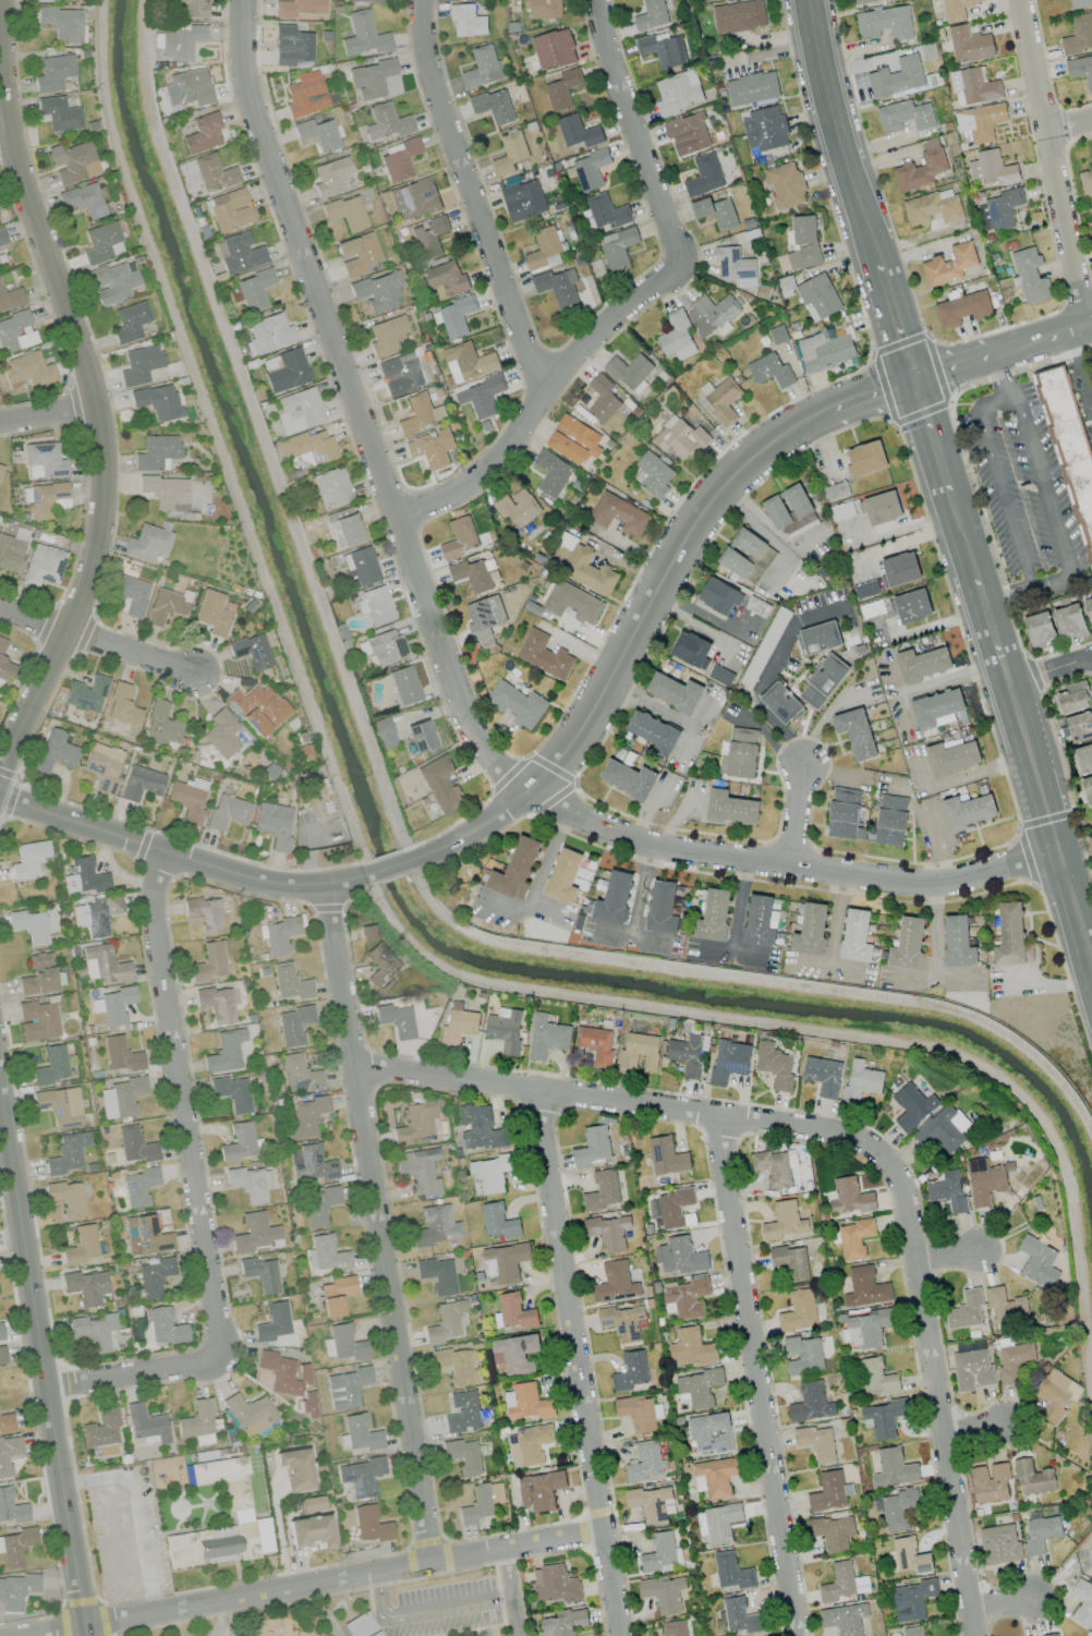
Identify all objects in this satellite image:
building: (44, 0)
building: (367, 0)
building: (864, 1)
building: (1080, 3)
building: (296, 7)
building: (191, 8)
building: (544, 9)
building: (956, 10)
building: (652, 15)
building: (739, 17)
building: (468, 21)
building: (62, 23)
building: (885, 23)
building: (1079, 34)
building: (363, 35)
building: (180, 41)
building: (291, 45)
building: (969, 45)
building: (554, 49)
building: (663, 49)
building: (483, 69)
building: (1080, 70)
building: (52, 72)
building: (369, 77)
building: (897, 77)
building: (974, 85)
building: (187, 87)
building: (752, 88)
building: (562, 89)
building: (678, 93)
building: (304, 96)
building: (494, 106)
building: (59, 113)
building: (905, 116)
building: (386, 122)
building: (981, 122)
road: (1068, 128)
building: (764, 130)
building: (578, 132)
building: (202, 133)
building: (317, 133)
road: (634, 134)
building: (688, 134)
road: (838, 134)
road: (5, 136)
building: (510, 154)
building: (399, 158)
building: (72, 161)
road: (1051, 162)
building: (921, 167)
building: (993, 168)
building: (590, 169)
building: (213, 172)
building: (329, 175)
building: (704, 175)
building: (1085, 181)
building: (786, 186)
road: (473, 197)
building: (413, 198)
building: (83, 199)
building: (523, 201)
building: (932, 208)
building: (229, 209)
building: (1002, 209)
building: (345, 211)
building: (715, 211)
building: (606, 213)
building: (2, 238)
building: (428, 238)
building: (101, 242)
building: (803, 243)
building: (618, 247)
building: (544, 250)
building: (240, 253)
building: (356, 253)
building: (949, 265)
building: (736, 266)
building: (1030, 275)
building: (445, 280)
building: (113, 281)
building: (558, 288)
building: (254, 289)
building: (376, 291)
building: (818, 296)
building: (11, 299)
building: (962, 310)
building: (712, 314)
building: (456, 317)
building: (131, 320)
road: (895, 323)
road: (1090, 324)
road: (1067, 330)
building: (15, 331)
building: (267, 334)
building: (386, 335)
building: (677, 337)
road: (1021, 344)
building: (824, 351)
building: (468, 362)
building: (139, 364)
road: (953, 366)
building: (28, 369)
building: (401, 369)
road: (1017, 369)
building: (287, 371)
building: (771, 371)
building: (630, 373)
road: (1002, 375)
traffic signals: (911, 379)
road: (89, 389)
road: (538, 396)
road: (867, 396)
building: (481, 397)
road: (1016, 397)
building: (603, 399)
building: (721, 400)
building: (157, 401)
building: (298, 410)
road: (47, 413)
road: (920, 413)
building: (420, 414)
road: (930, 434)
building: (680, 438)
building: (573, 440)
building: (1069, 444)
building: (306, 447)
building: (430, 448)
building: (156, 451)
building: (45, 459)
building: (865, 459)
building: (0, 468)
building: (551, 474)
building: (653, 475)
building: (331, 487)
building: (835, 492)
parking lot: (1021, 492)
building: (46, 499)
building: (517, 508)
building: (882, 508)
building: (790, 511)
building: (619, 514)
building: (343, 526)
road: (761, 532)
road: (963, 534)
building: (459, 538)
building: (147, 542)
building: (11, 549)
building: (747, 557)
road: (695, 561)
building: (43, 565)
building: (360, 566)
building: (900, 569)
building: (587, 570)
building: (473, 575)
building: (131, 594)
building: (717, 596)
road: (1008, 597)
building: (572, 603)
building: (375, 604)
building: (166, 605)
building: (912, 606)
building: (1089, 609)
building: (214, 613)
building: (484, 619)
building: (1070, 621)
road: (992, 629)
building: (1039, 629)
building: (818, 638)
road: (93, 640)
building: (1, 644)
road: (624, 646)
building: (385, 647)
building: (765, 647)
building: (690, 649)
building: (251, 651)
building: (544, 655)
building: (922, 664)
road: (449, 667)
building: (7, 668)
road: (1049, 668)
road: (764, 674)
road: (627, 680)
building: (823, 681)
building: (404, 684)
building: (675, 692)
building: (86, 693)
road: (619, 698)
building: (1072, 698)
building: (780, 703)
building: (518, 704)
building: (121, 705)
building: (935, 707)
building: (257, 708)
road: (680, 718)
building: (160, 726)
building: (1080, 726)
building: (653, 731)
building: (220, 732)
building: (384, 732)
building: (856, 732)
building: (420, 736)
building: (53, 751)
building: (742, 753)
building: (951, 758)
building: (1084, 758)
building: (102, 766)
road: (833, 773)
building: (629, 779)
building: (139, 783)
building: (440, 784)
building: (1088, 789)
building: (187, 798)
road: (554, 798)
building: (730, 808)
building: (228, 811)
building: (968, 811)
building: (845, 814)
road: (796, 816)
road: (1051, 820)
building: (890, 821)
road: (1, 822)
building: (274, 824)
road: (71, 836)
road: (474, 846)
road: (178, 857)
building: (28, 858)
building: (515, 869)
road: (385, 870)
road: (155, 871)
building: (83, 875)
road: (393, 876)
building: (563, 876)
road: (240, 892)
road: (357, 893)
building: (615, 898)
building: (663, 907)
road: (326, 908)
building: (205, 912)
building: (95, 913)
building: (714, 916)
road: (738, 920)
building: (759, 922)
building: (25, 924)
building: (810, 929)
road: (935, 930)
building: (368, 932)
building: (277, 933)
building: (856, 936)
building: (1011, 936)
building: (958, 942)
building: (907, 944)
building: (208, 961)
building: (102, 964)
building: (380, 967)
building: (37, 974)
building: (289, 981)
building: (215, 1003)
building: (112, 1004)
building: (37, 1019)
building: (396, 1019)
building: (457, 1023)
building: (293, 1025)
building: (505, 1030)
building: (546, 1037)
building: (595, 1044)
building: (223, 1050)
building: (639, 1051)
building: (120, 1053)
building: (687, 1054)
building: (728, 1061)
building: (50, 1065)
building: (775, 1066)
building: (299, 1073)
building: (823, 1076)
building: (861, 1081)
building: (231, 1092)
building: (120, 1096)
building: (60, 1104)
road: (621, 1104)
road: (183, 1105)
building: (912, 1106)
building: (305, 1116)
building: (415, 1122)
building: (480, 1128)
building: (943, 1129)
building: (238, 1142)
building: (134, 1144)
building: (593, 1147)
building: (66, 1152)
building: (667, 1156)
building: (310, 1164)
building: (773, 1167)
building: (418, 1171)
building: (493, 1172)
building: (985, 1180)
building: (247, 1184)
building: (138, 1187)
building: (603, 1190)
building: (948, 1191)
building: (849, 1197)
building: (66, 1198)
building: (318, 1205)
building: (498, 1221)
building: (784, 1222)
road: (379, 1224)
building: (435, 1224)
building: (608, 1232)
building: (254, 1233)
building: (145, 1236)
building: (856, 1238)
building: (80, 1246)
building: (324, 1253)
building: (680, 1256)
road: (946, 1256)
building: (505, 1261)
building: (790, 1262)
building: (1039, 1262)
building: (260, 1274)
building: (437, 1274)
building: (153, 1275)
building: (615, 1283)
building: (85, 1287)
building: (865, 1288)
building: (335, 1294)
building: (687, 1298)
building: (1005, 1306)
building: (514, 1311)
building: (798, 1311)
building: (966, 1311)
building: (444, 1320)
building: (272, 1321)
building: (623, 1322)
building: (165, 1326)
building: (867, 1329)
building: (95, 1330)
building: (1, 1332)
building: (345, 1342)
building: (691, 1349)
building: (514, 1353)
building: (2, 1356)
building: (802, 1356)
building: (1015, 1361)
road: (578, 1362)
building: (456, 1365)
road: (40, 1370)
building: (972, 1370)
building: (631, 1371)
road: (132, 1372)
building: (282, 1372)
building: (877, 1377)
road: (759, 1378)
building: (345, 1385)
building: (699, 1387)
building: (1056, 1394)
road: (936, 1395)
building: (525, 1402)
building: (811, 1403)
building: (306, 1404)
building: (462, 1411)
building: (248, 1413)
building: (640, 1413)
building: (884, 1418)
building: (196, 1421)
building: (5, 1422)
building: (145, 1422)
road: (969, 1422)
building: (101, 1432)
building: (360, 1432)
building: (711, 1433)
building: (817, 1443)
building: (530, 1444)
building: (8, 1452)
building: (463, 1455)
building: (645, 1462)
building: (293, 1468)
building: (894, 1468)
building: (360, 1475)
building: (716, 1477)
building: (1032, 1478)
building: (990, 1483)
building: (539, 1490)
building: (828, 1492)
building: (481, 1502)
building: (311, 1503)
building: (652, 1503)
building: (11, 1506)
road: (142, 1507)
building: (897, 1510)
building: (259, 1511)
building: (241, 1514)
building: (718, 1523)
building: (369, 1524)
building: (308, 1530)
building: (833, 1532)
building: (1041, 1534)
building: (999, 1544)
building: (16, 1546)
building: (218, 1546)
building: (662, 1553)
building: (910, 1556)
building: (222, 1558)
building: (731, 1572)
building: (842, 1583)
road: (318, 1584)
building: (555, 1584)
building: (16, 1590)
building: (664, 1592)
building: (911, 1600)
building: (1082, 1601)
road: (1000, 1602)
road: (448, 1607)
building: (740, 1616)
road: (219, 1619)
building: (844, 1619)
building: (565, 1623)
building: (359, 1625)
building: (675, 1628)
building: (913, 1632)
road: (61, 1633)
building: (375, 1634)
building: (1051, 1635)

